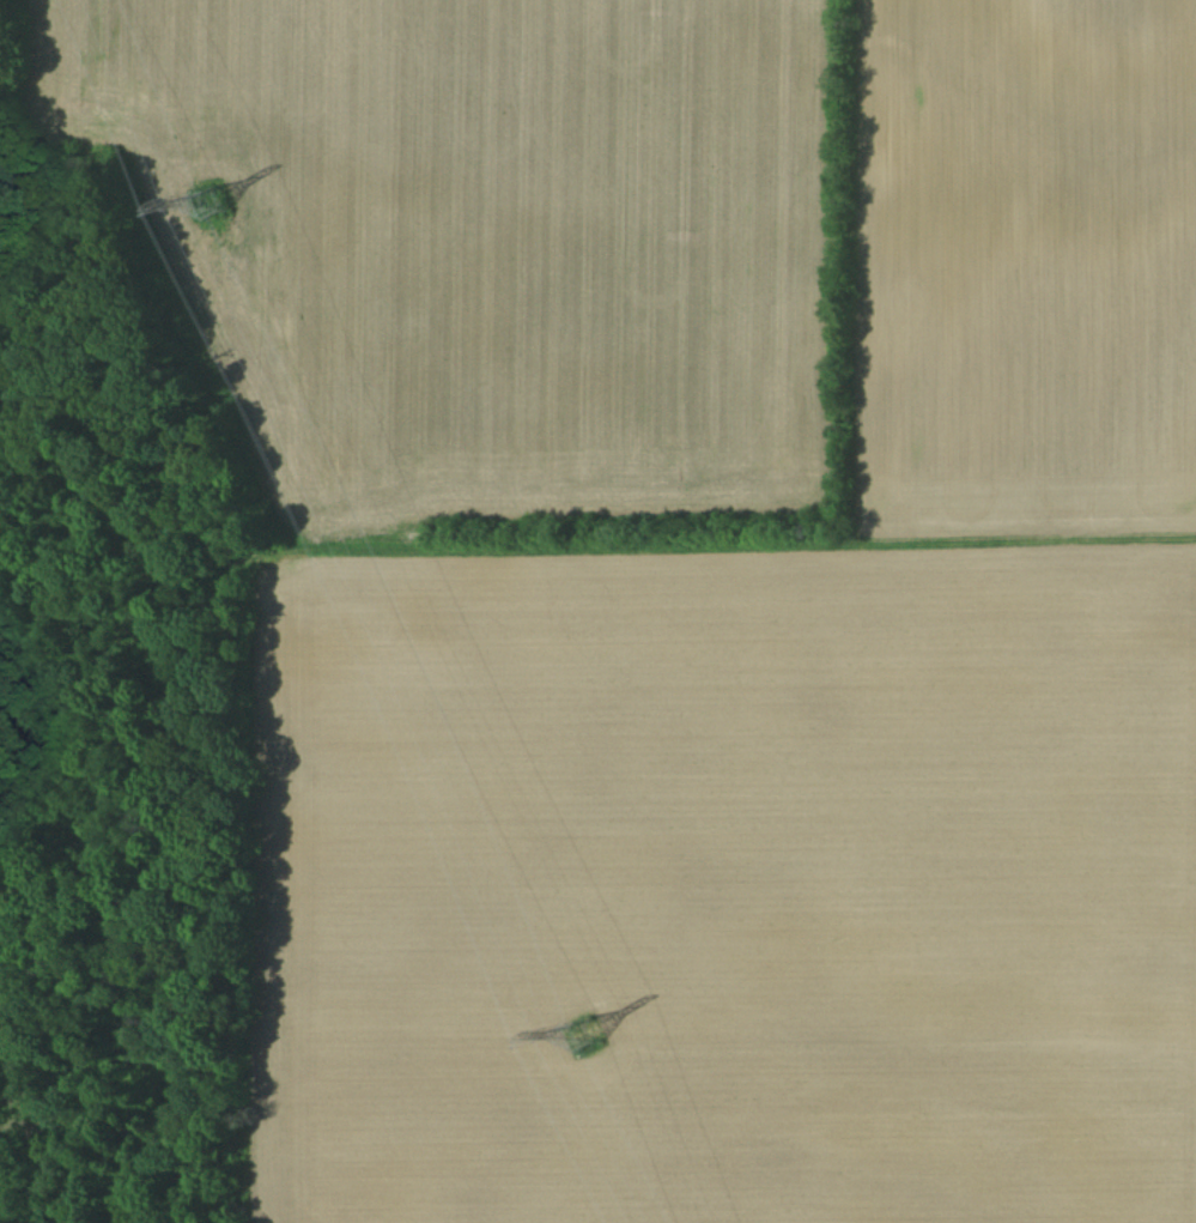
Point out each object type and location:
power tower: (211, 205)
power tower: (591, 1033)

